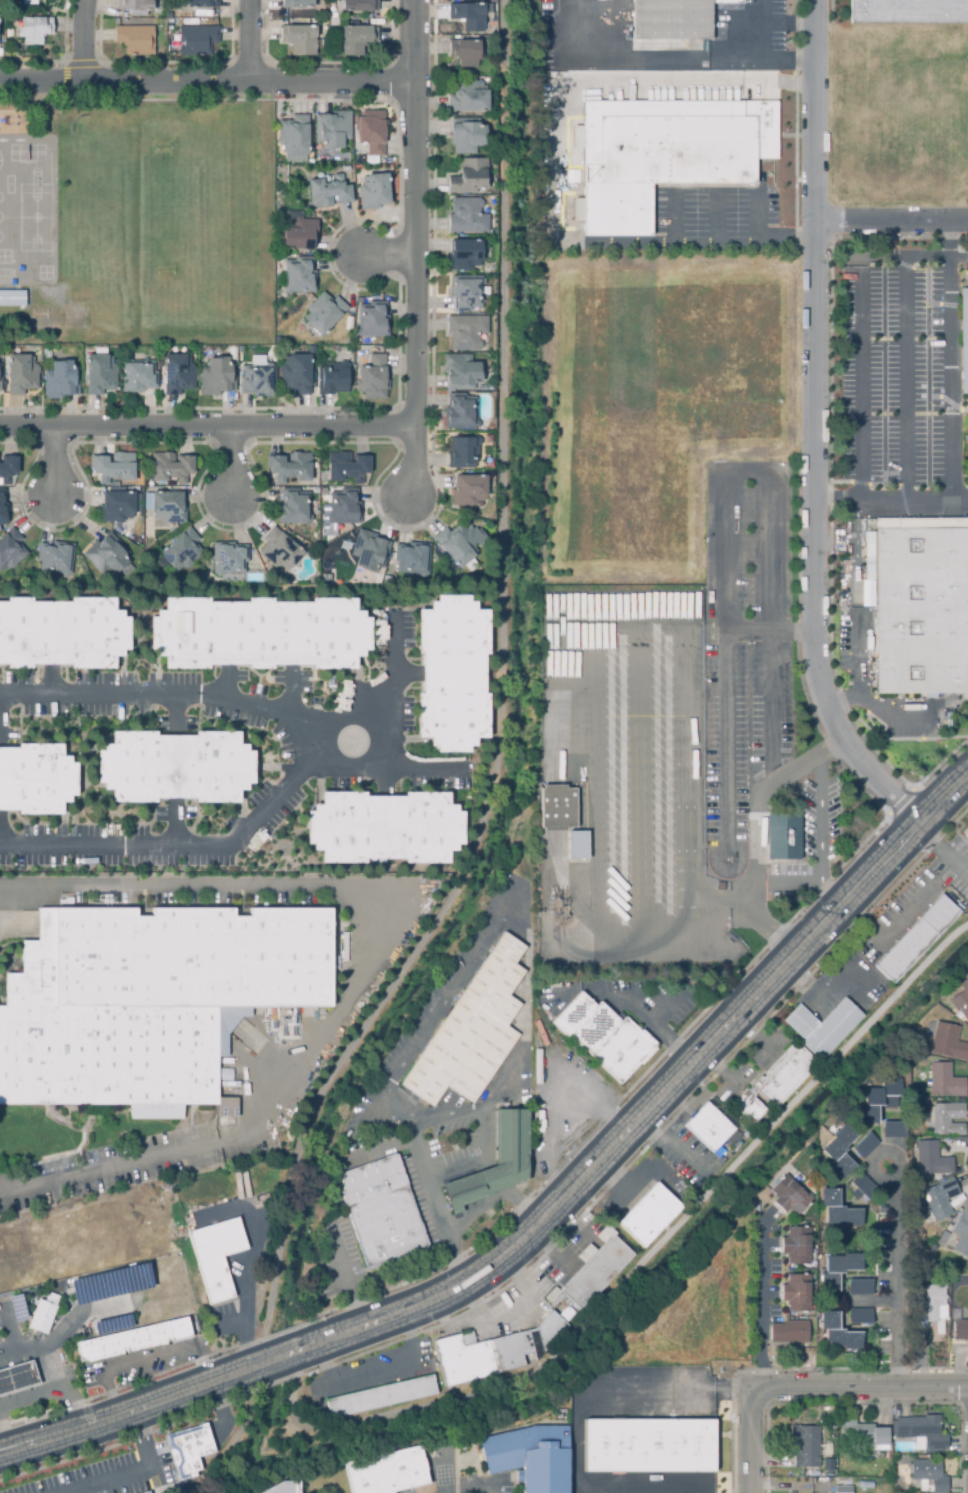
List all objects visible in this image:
building: (203, 3)
building: (297, 4)
building: (359, 5)
building: (138, 6)
building: (909, 11)
building: (469, 15)
building: (673, 18)
road: (786, 24)
building: (35, 29)
road: (754, 32)
building: (9, 33)
building: (136, 39)
building: (300, 39)
building: (357, 39)
building: (197, 40)
road: (87, 43)
road: (254, 43)
building: (466, 52)
road: (663, 67)
road: (208, 86)
building: (469, 97)
building: (334, 130)
building: (372, 132)
building: (467, 134)
building: (294, 138)
building: (664, 154)
building: (470, 176)
building: (375, 191)
building: (330, 192)
building: (468, 215)
road: (671, 218)
road: (714, 218)
road: (892, 219)
building: (299, 232)
road: (763, 239)
road: (629, 244)
road: (418, 254)
building: (465, 254)
road: (388, 256)
building: (300, 276)
building: (467, 291)
building: (849, 295)
building: (13, 303)
building: (324, 313)
building: (374, 319)
building: (467, 331)
road: (858, 335)
building: (964, 340)
building: (312, 350)
building: (47, 352)
building: (462, 371)
road: (817, 371)
building: (23, 374)
building: (100, 374)
building: (179, 374)
building: (296, 374)
building: (138, 376)
building: (218, 377)
building: (0, 378)
building: (374, 378)
building: (333, 379)
building: (62, 380)
building: (258, 381)
road: (905, 381)
building: (461, 411)
road: (951, 429)
road: (208, 430)
building: (464, 451)
road: (58, 466)
road: (234, 466)
building: (347, 466)
building: (115, 467)
building: (171, 467)
building: (290, 467)
building: (8, 469)
road: (748, 470)
building: (469, 489)
road: (960, 503)
building: (117, 506)
building: (168, 506)
building: (345, 506)
building: (3, 507)
building: (294, 507)
building: (458, 544)
building: (11, 549)
building: (280, 550)
building: (370, 550)
building: (181, 551)
building: (110, 555)
building: (56, 557)
building: (229, 557)
building: (412, 558)
building: (920, 603)
building: (63, 632)
building: (261, 632)
road: (792, 635)
road: (854, 670)
building: (454, 673)
road: (409, 675)
road: (398, 691)
road: (171, 704)
road: (500, 708)
road: (769, 709)
road: (175, 717)
road: (887, 719)
road: (723, 726)
road: (698, 756)
building: (176, 766)
road: (794, 771)
road: (967, 774)
building: (36, 778)
road: (881, 780)
road: (945, 795)
road: (598, 801)
road: (639, 801)
building: (556, 809)
road: (818, 819)
building: (386, 827)
building: (966, 832)
road: (170, 833)
road: (246, 834)
building: (784, 836)
building: (575, 845)
road: (940, 854)
road: (798, 882)
road: (862, 885)
road: (758, 892)
road: (833, 893)
road: (919, 904)
road: (728, 913)
road: (496, 926)
building: (916, 939)
road: (384, 946)
road: (644, 948)
road: (810, 979)
building: (964, 986)
road: (629, 1002)
building: (149, 1003)
building: (960, 1003)
road: (621, 1012)
road: (663, 1013)
building: (471, 1032)
building: (603, 1037)
building: (946, 1041)
building: (804, 1050)
road: (752, 1062)
road: (545, 1072)
building: (943, 1080)
building: (878, 1101)
building: (747, 1108)
road: (563, 1112)
building: (946, 1118)
road: (485, 1123)
building: (708, 1128)
building: (893, 1131)
road: (675, 1144)
building: (864, 1146)
building: (839, 1151)
building: (930, 1158)
road: (354, 1160)
building: (495, 1163)
road: (617, 1177)
road: (582, 1181)
building: (861, 1188)
road: (494, 1195)
building: (788, 1197)
building: (938, 1197)
building: (837, 1211)
building: (380, 1212)
building: (648, 1216)
building: (961, 1231)
building: (946, 1238)
building: (796, 1246)
building: (215, 1257)
road: (251, 1258)
road: (651, 1266)
building: (595, 1270)
building: (837, 1270)
road: (896, 1276)
building: (859, 1288)
building: (796, 1293)
road: (759, 1300)
road: (498, 1302)
building: (932, 1302)
road: (517, 1314)
building: (40, 1316)
building: (859, 1316)
building: (920, 1321)
building: (960, 1331)
road: (10, 1333)
building: (789, 1333)
building: (837, 1333)
building: (122, 1344)
road: (50, 1345)
building: (492, 1352)
road: (146, 1359)
road: (374, 1373)
building: (17, 1376)
road: (809, 1389)
road: (615, 1391)
road: (52, 1392)
building: (379, 1398)
road: (160, 1406)
building: (920, 1432)
road: (244, 1433)
building: (865, 1437)
building: (648, 1447)
building: (807, 1447)
building: (188, 1450)
building: (529, 1456)
road: (445, 1469)
building: (828, 1469)
building: (387, 1473)
building: (928, 1476)
road: (121, 1478)
road: (473, 1486)
building: (843, 1487)
building: (284, 1488)
building: (147, 1492)
building: (792, 1492)

